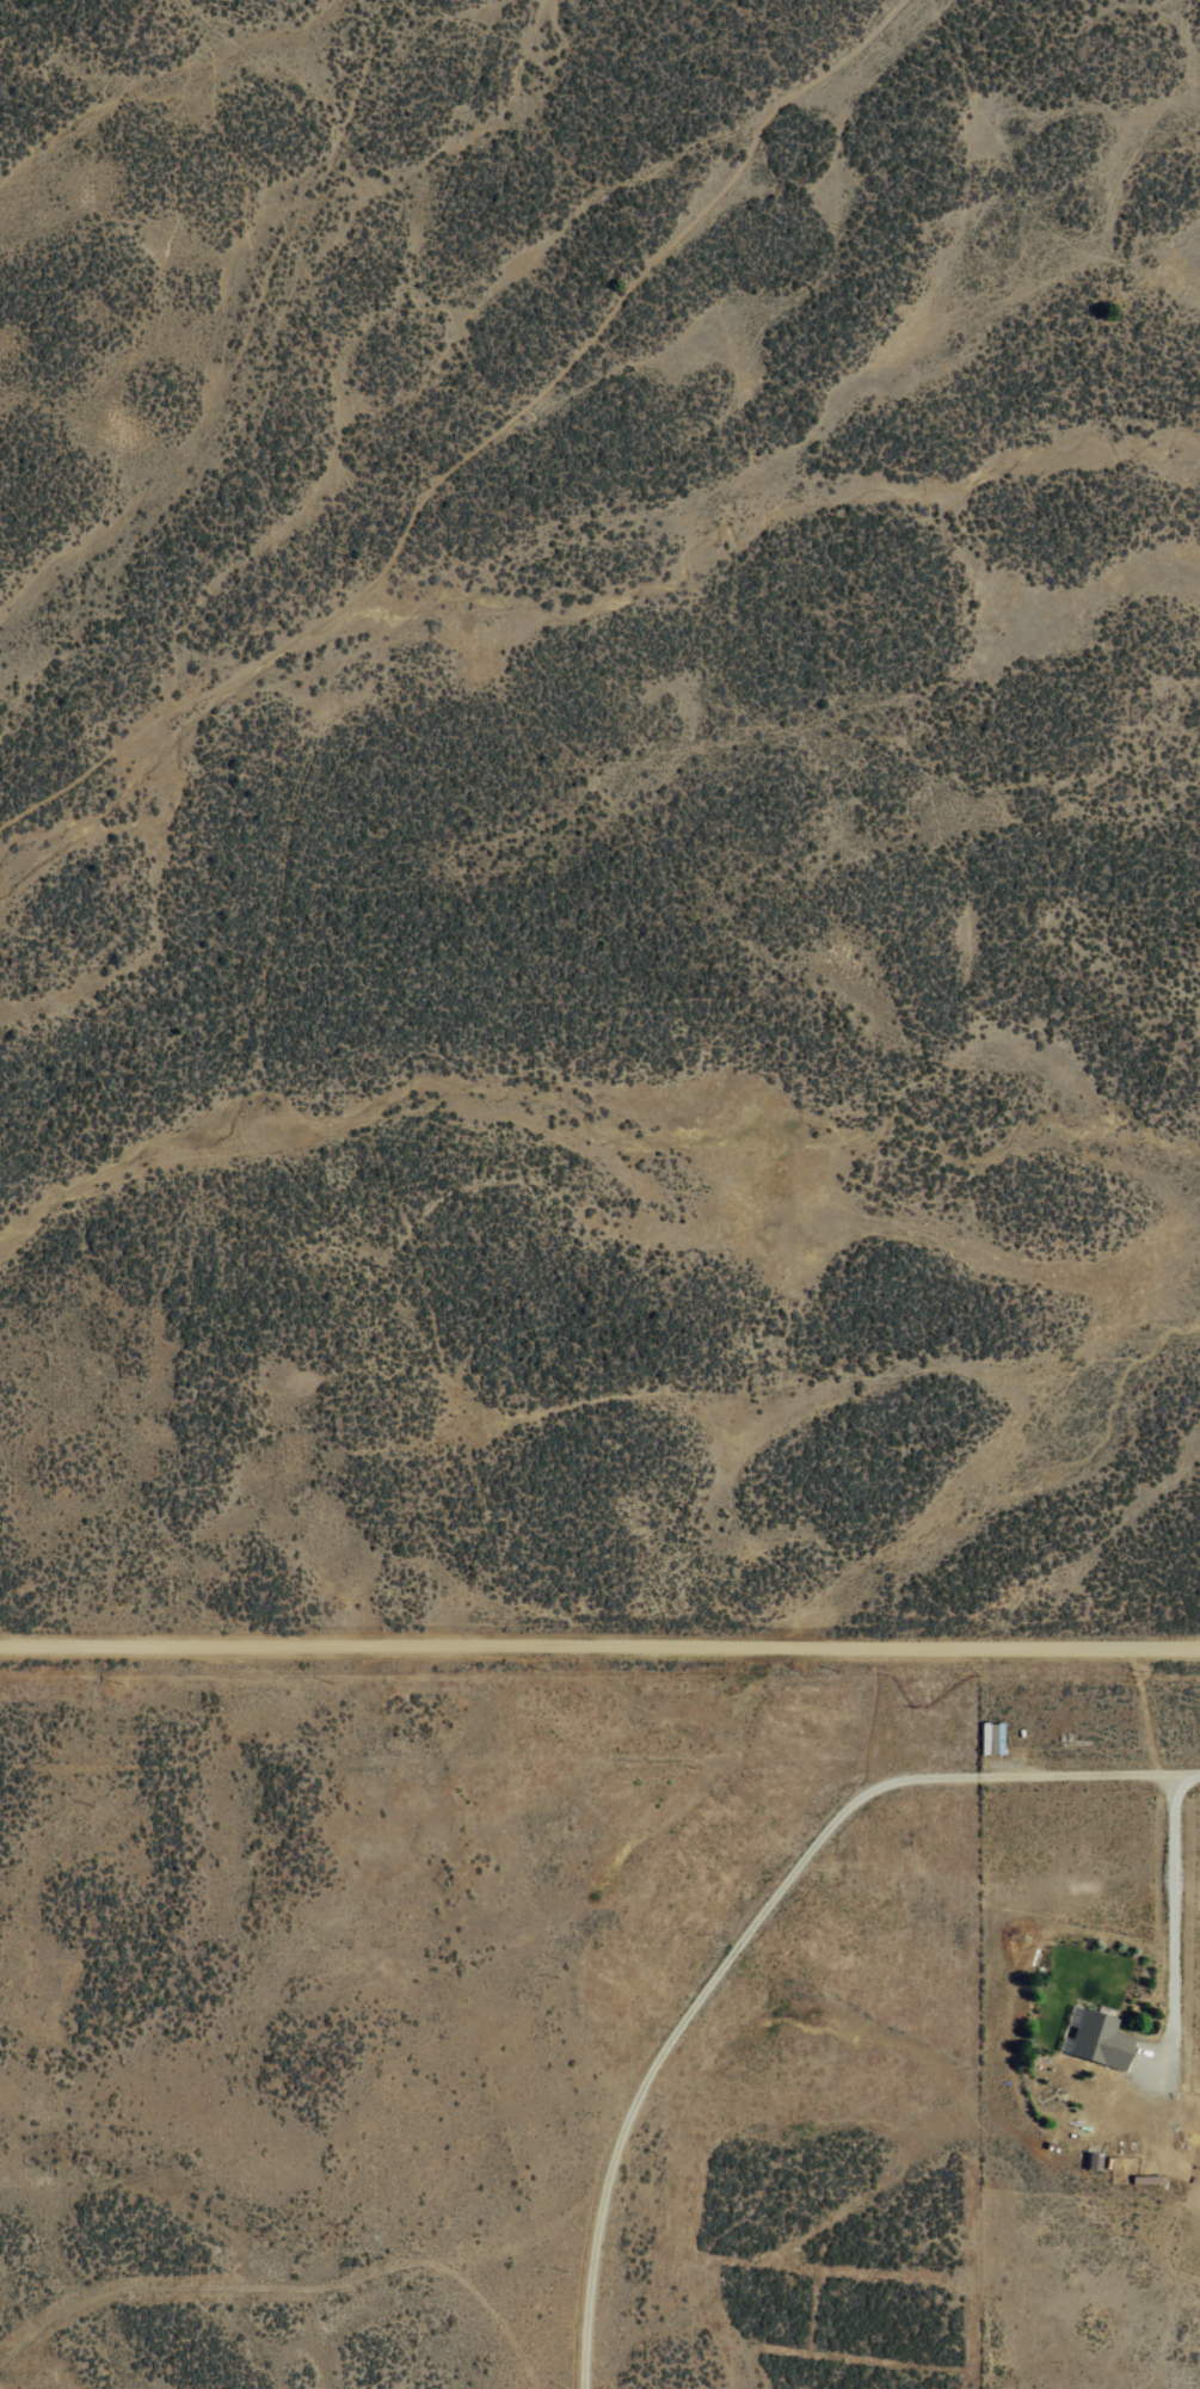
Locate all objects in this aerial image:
road: (476, 444)
crop: (566, 1134)
road: (599, 1656)
building: (990, 1737)
road: (752, 1921)

